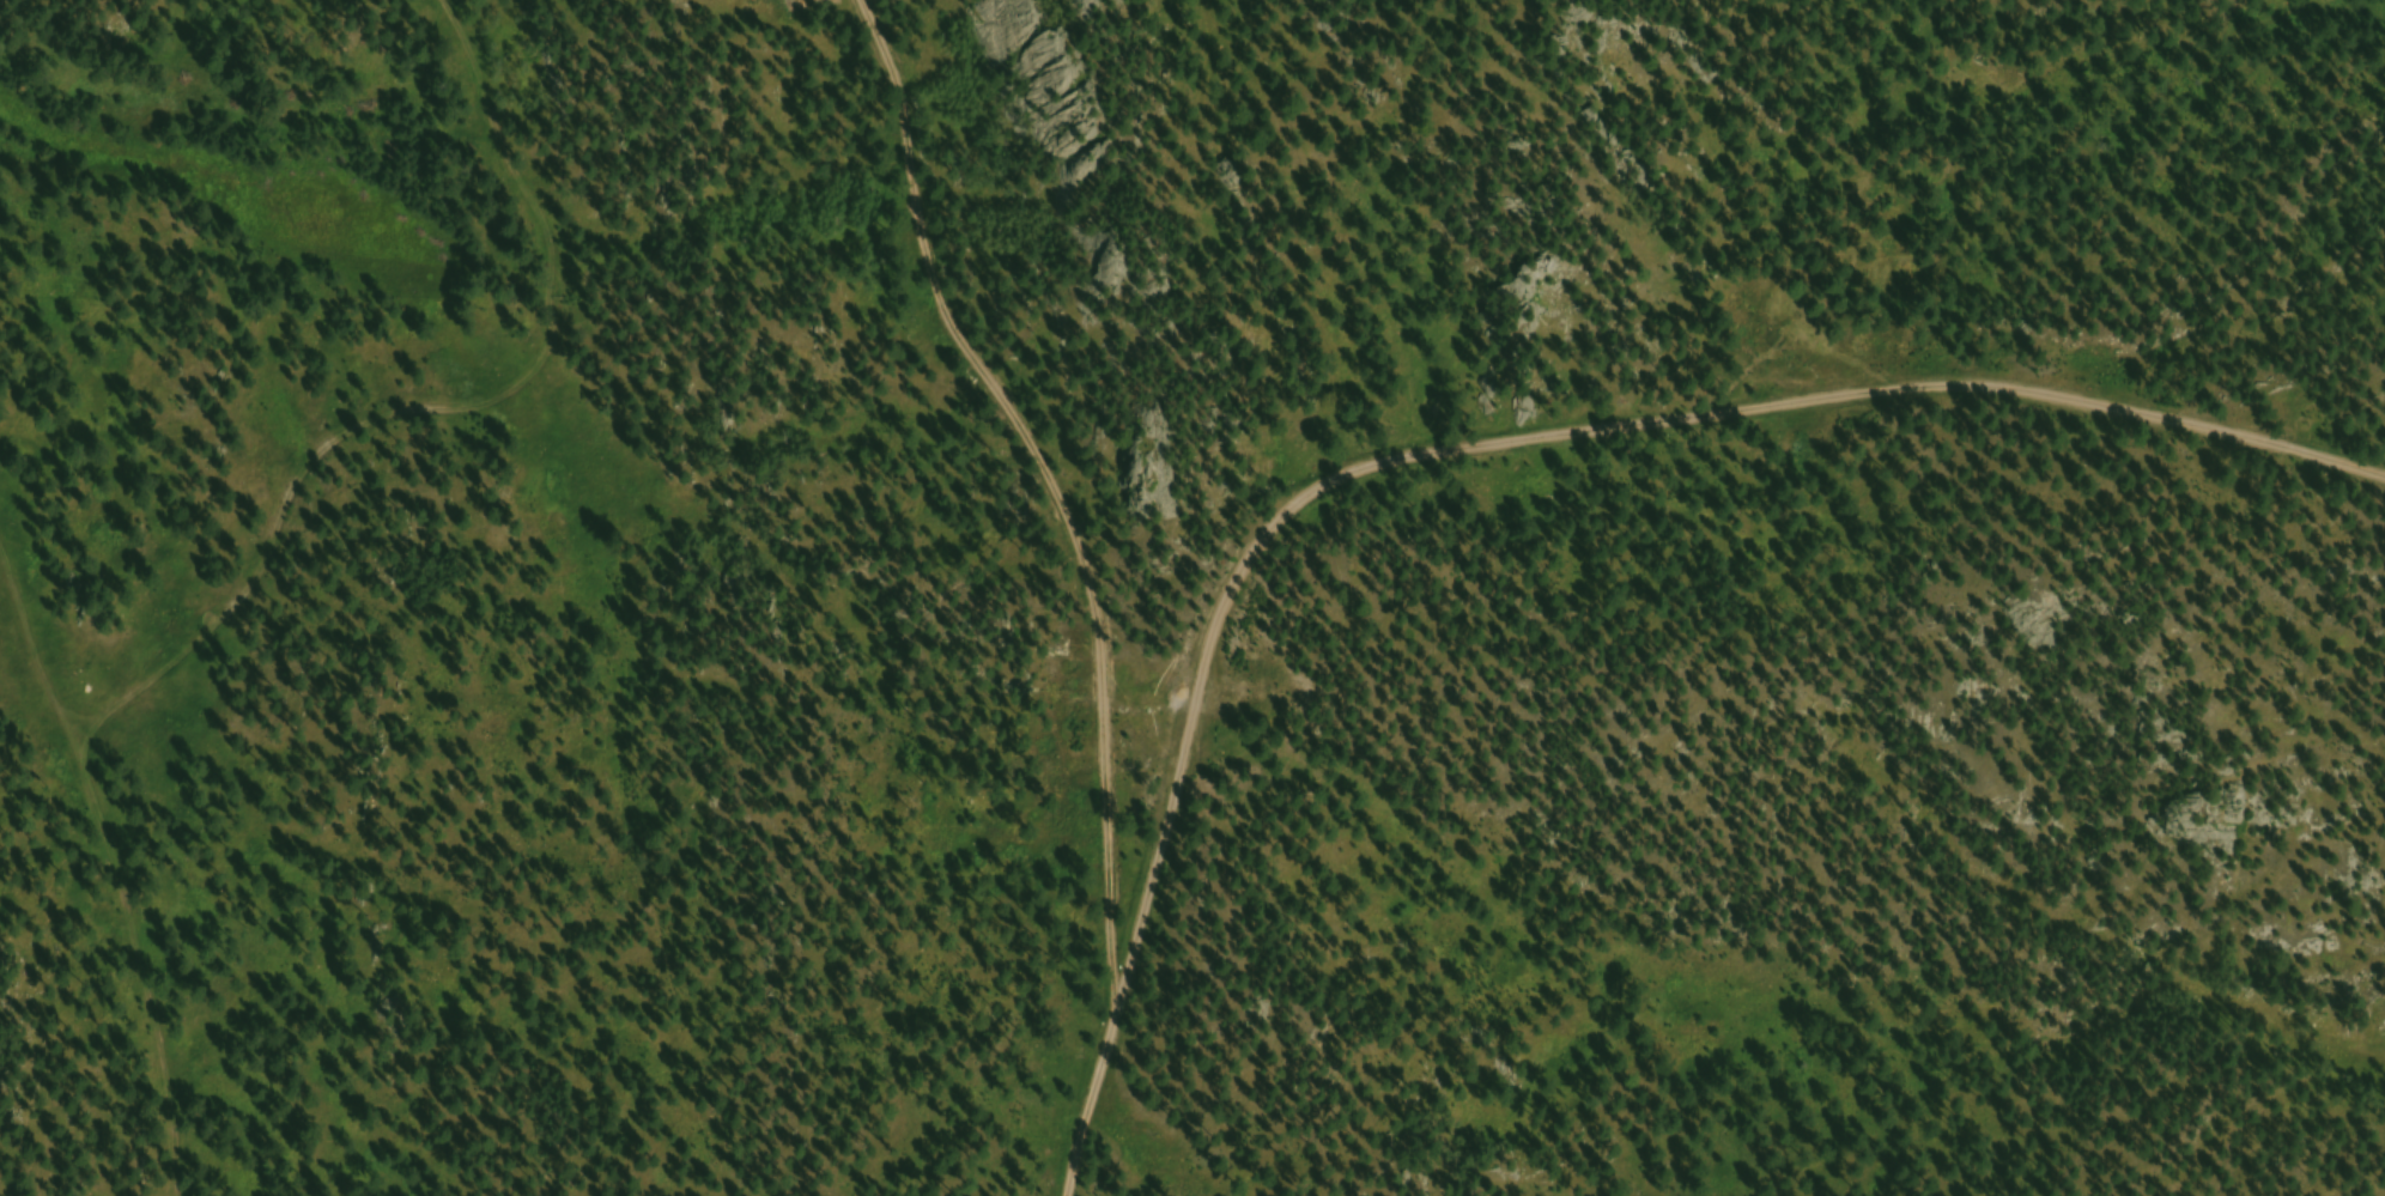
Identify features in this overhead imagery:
road: (1485, 454)

